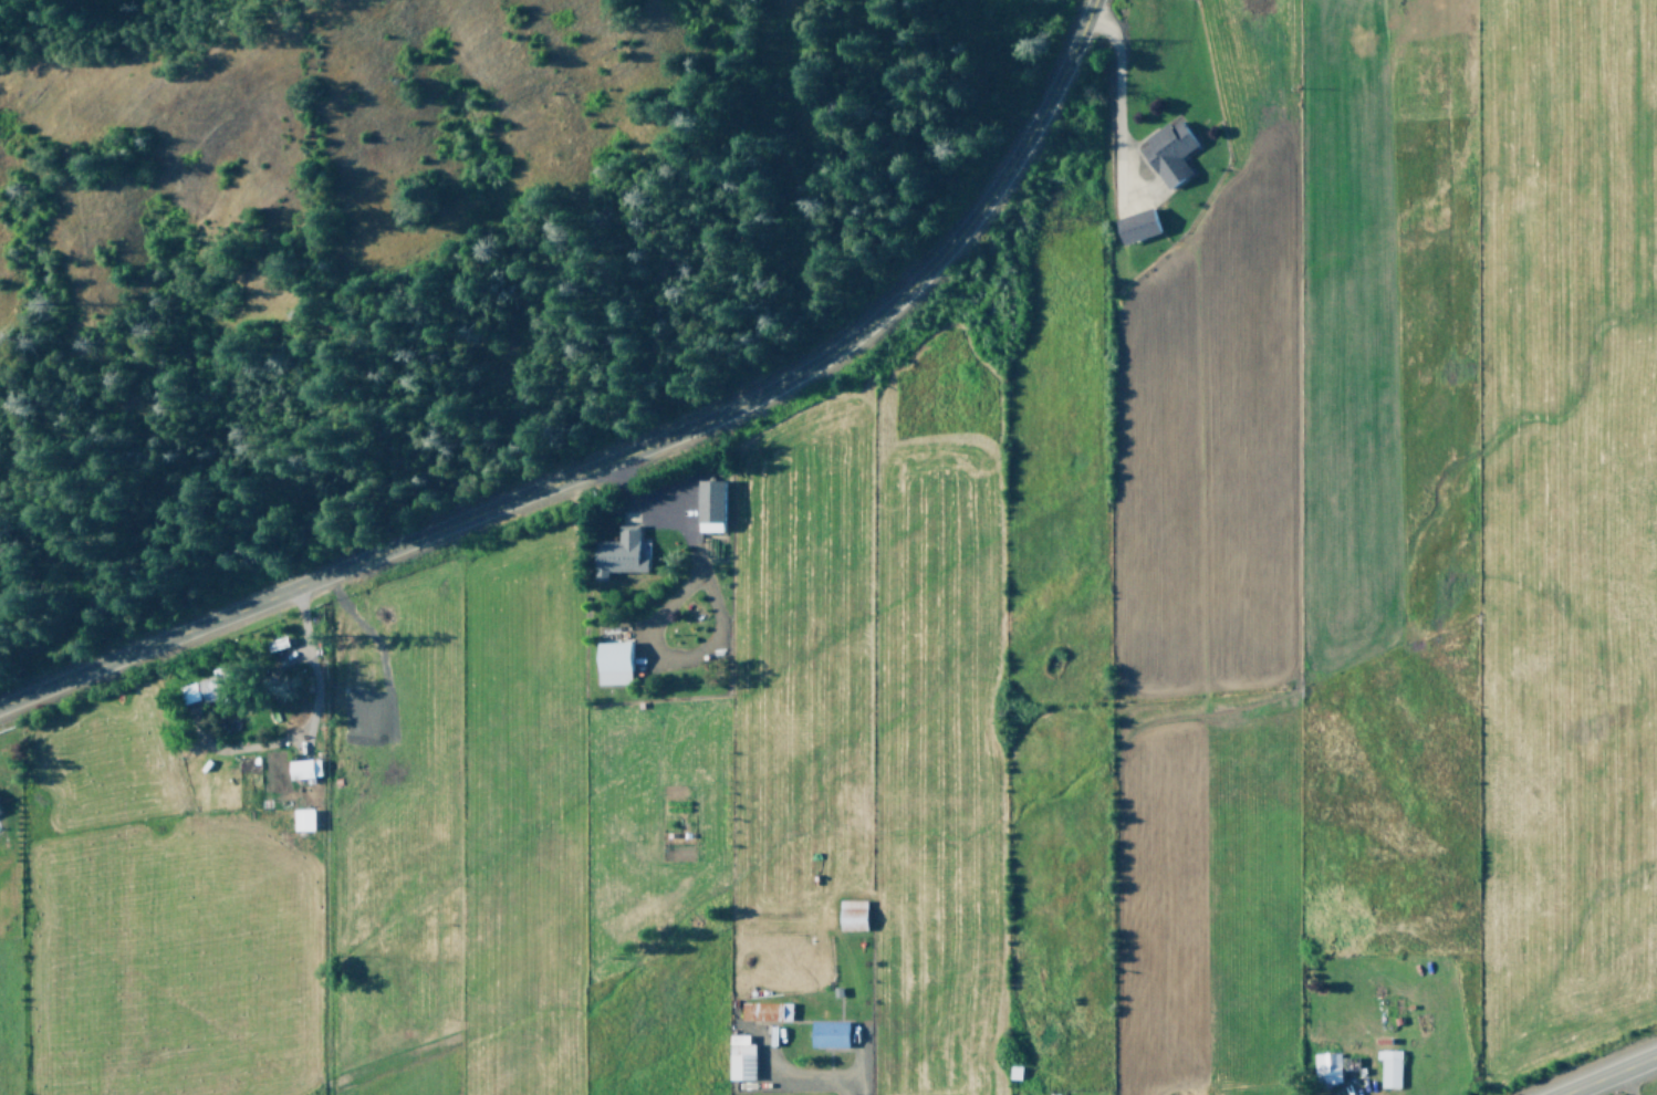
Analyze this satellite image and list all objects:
building: (1167, 150)
building: (1135, 225)
road: (619, 451)
building: (708, 504)
building: (619, 553)
building: (612, 663)
building: (205, 688)
building: (302, 768)
building: (301, 818)
building: (851, 915)
building: (768, 1011)
building: (827, 1033)
building: (739, 1057)
building: (1325, 1066)
building: (1388, 1067)
building: (1013, 1072)
road: (1605, 1073)

